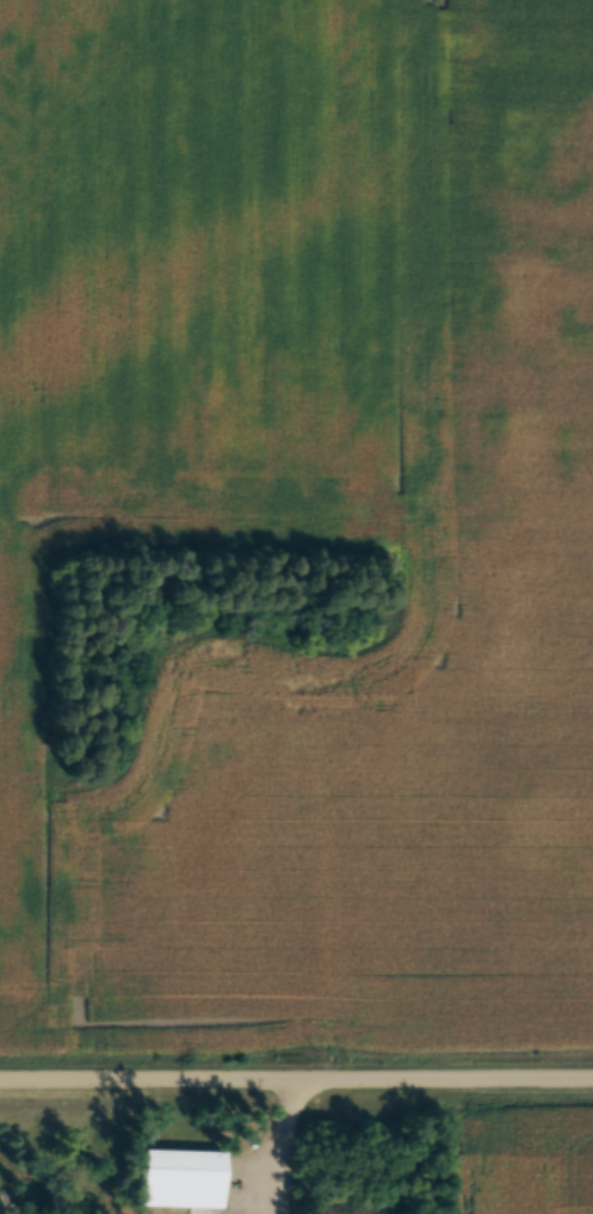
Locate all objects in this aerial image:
road: (296, 1075)
road: (279, 1141)
building: (175, 1178)

